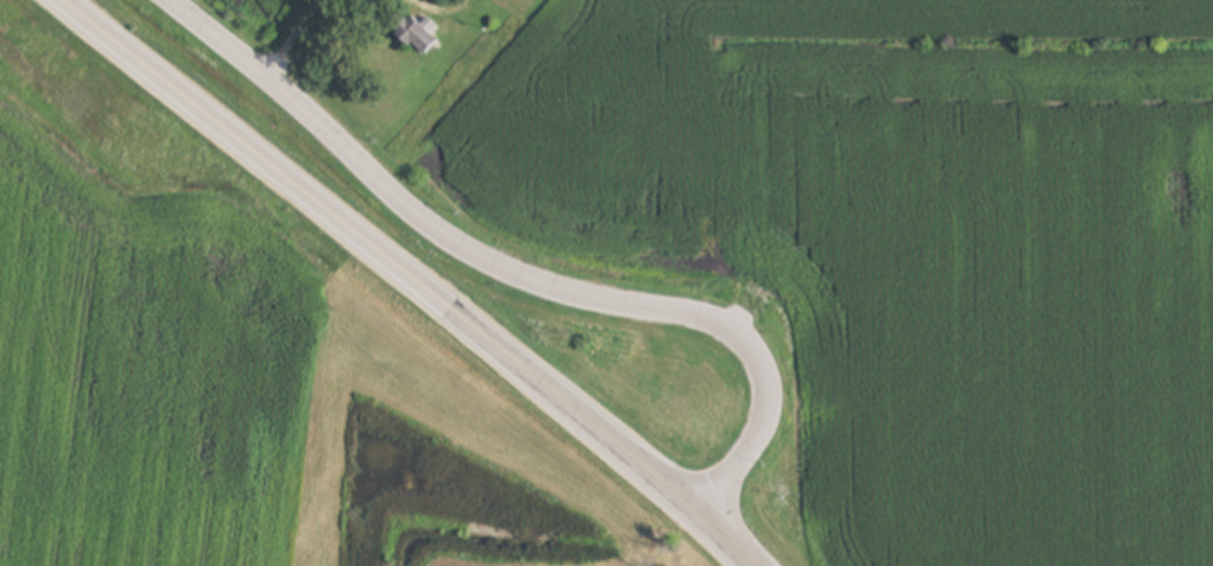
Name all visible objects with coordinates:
building: (418, 34)
road: (510, 272)
road: (410, 279)

